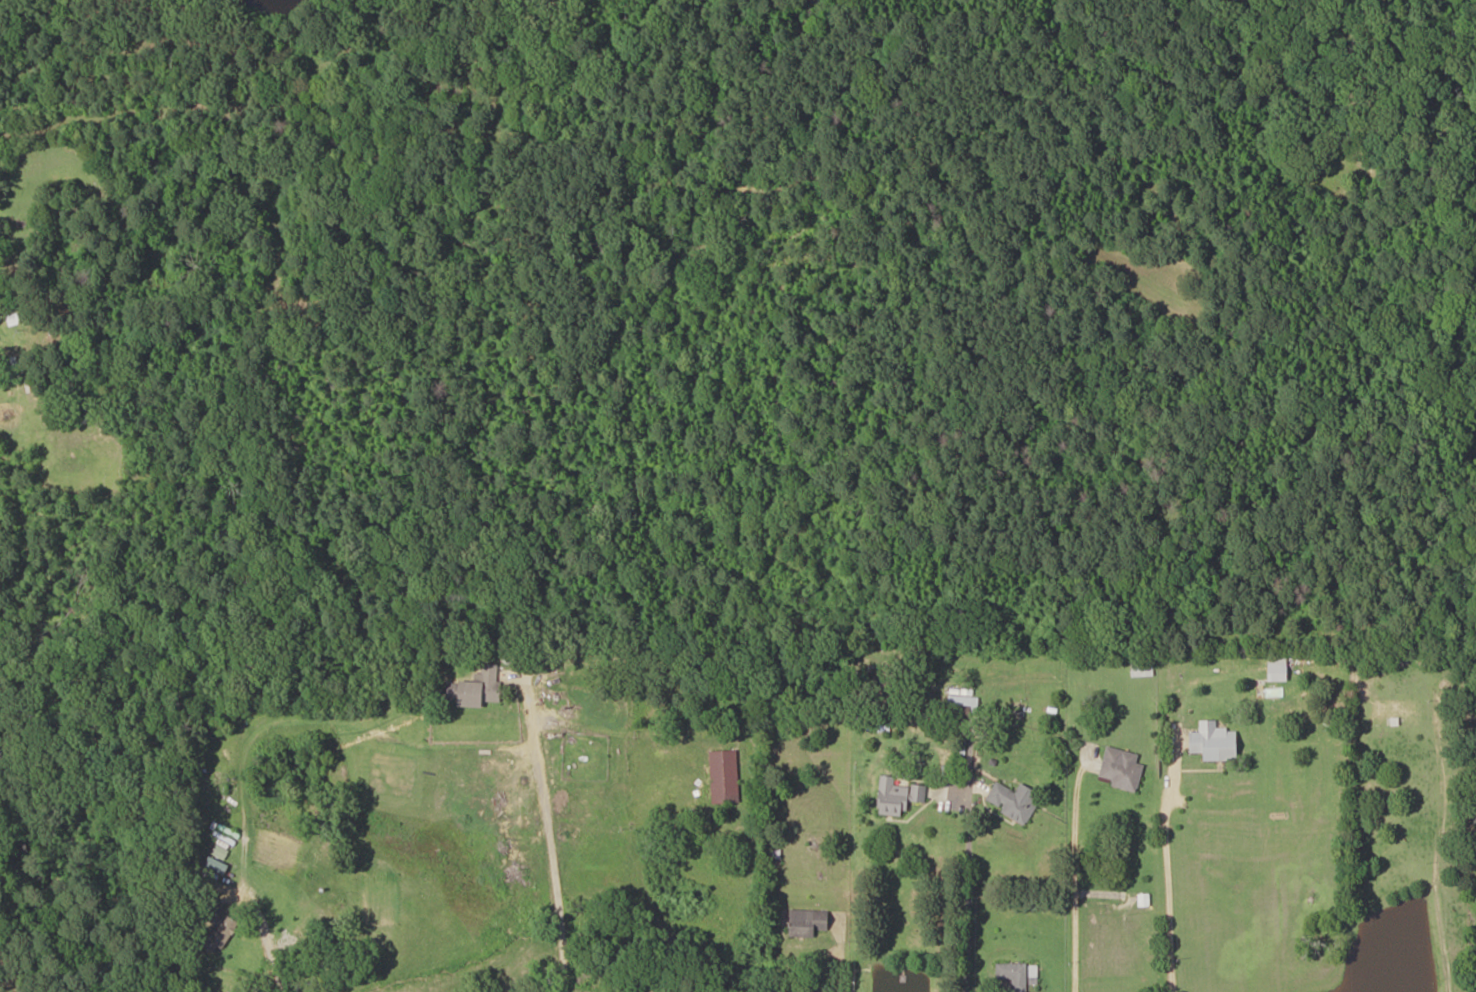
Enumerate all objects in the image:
building: (1273, 668)
building: (1142, 669)
building: (481, 688)
building: (963, 700)
building: (1392, 713)
building: (890, 715)
building: (1210, 741)
building: (672, 756)
building: (1123, 769)
building: (724, 776)
building: (898, 796)
building: (1014, 800)
building: (208, 880)
building: (809, 922)
building: (222, 927)
building: (1014, 975)

